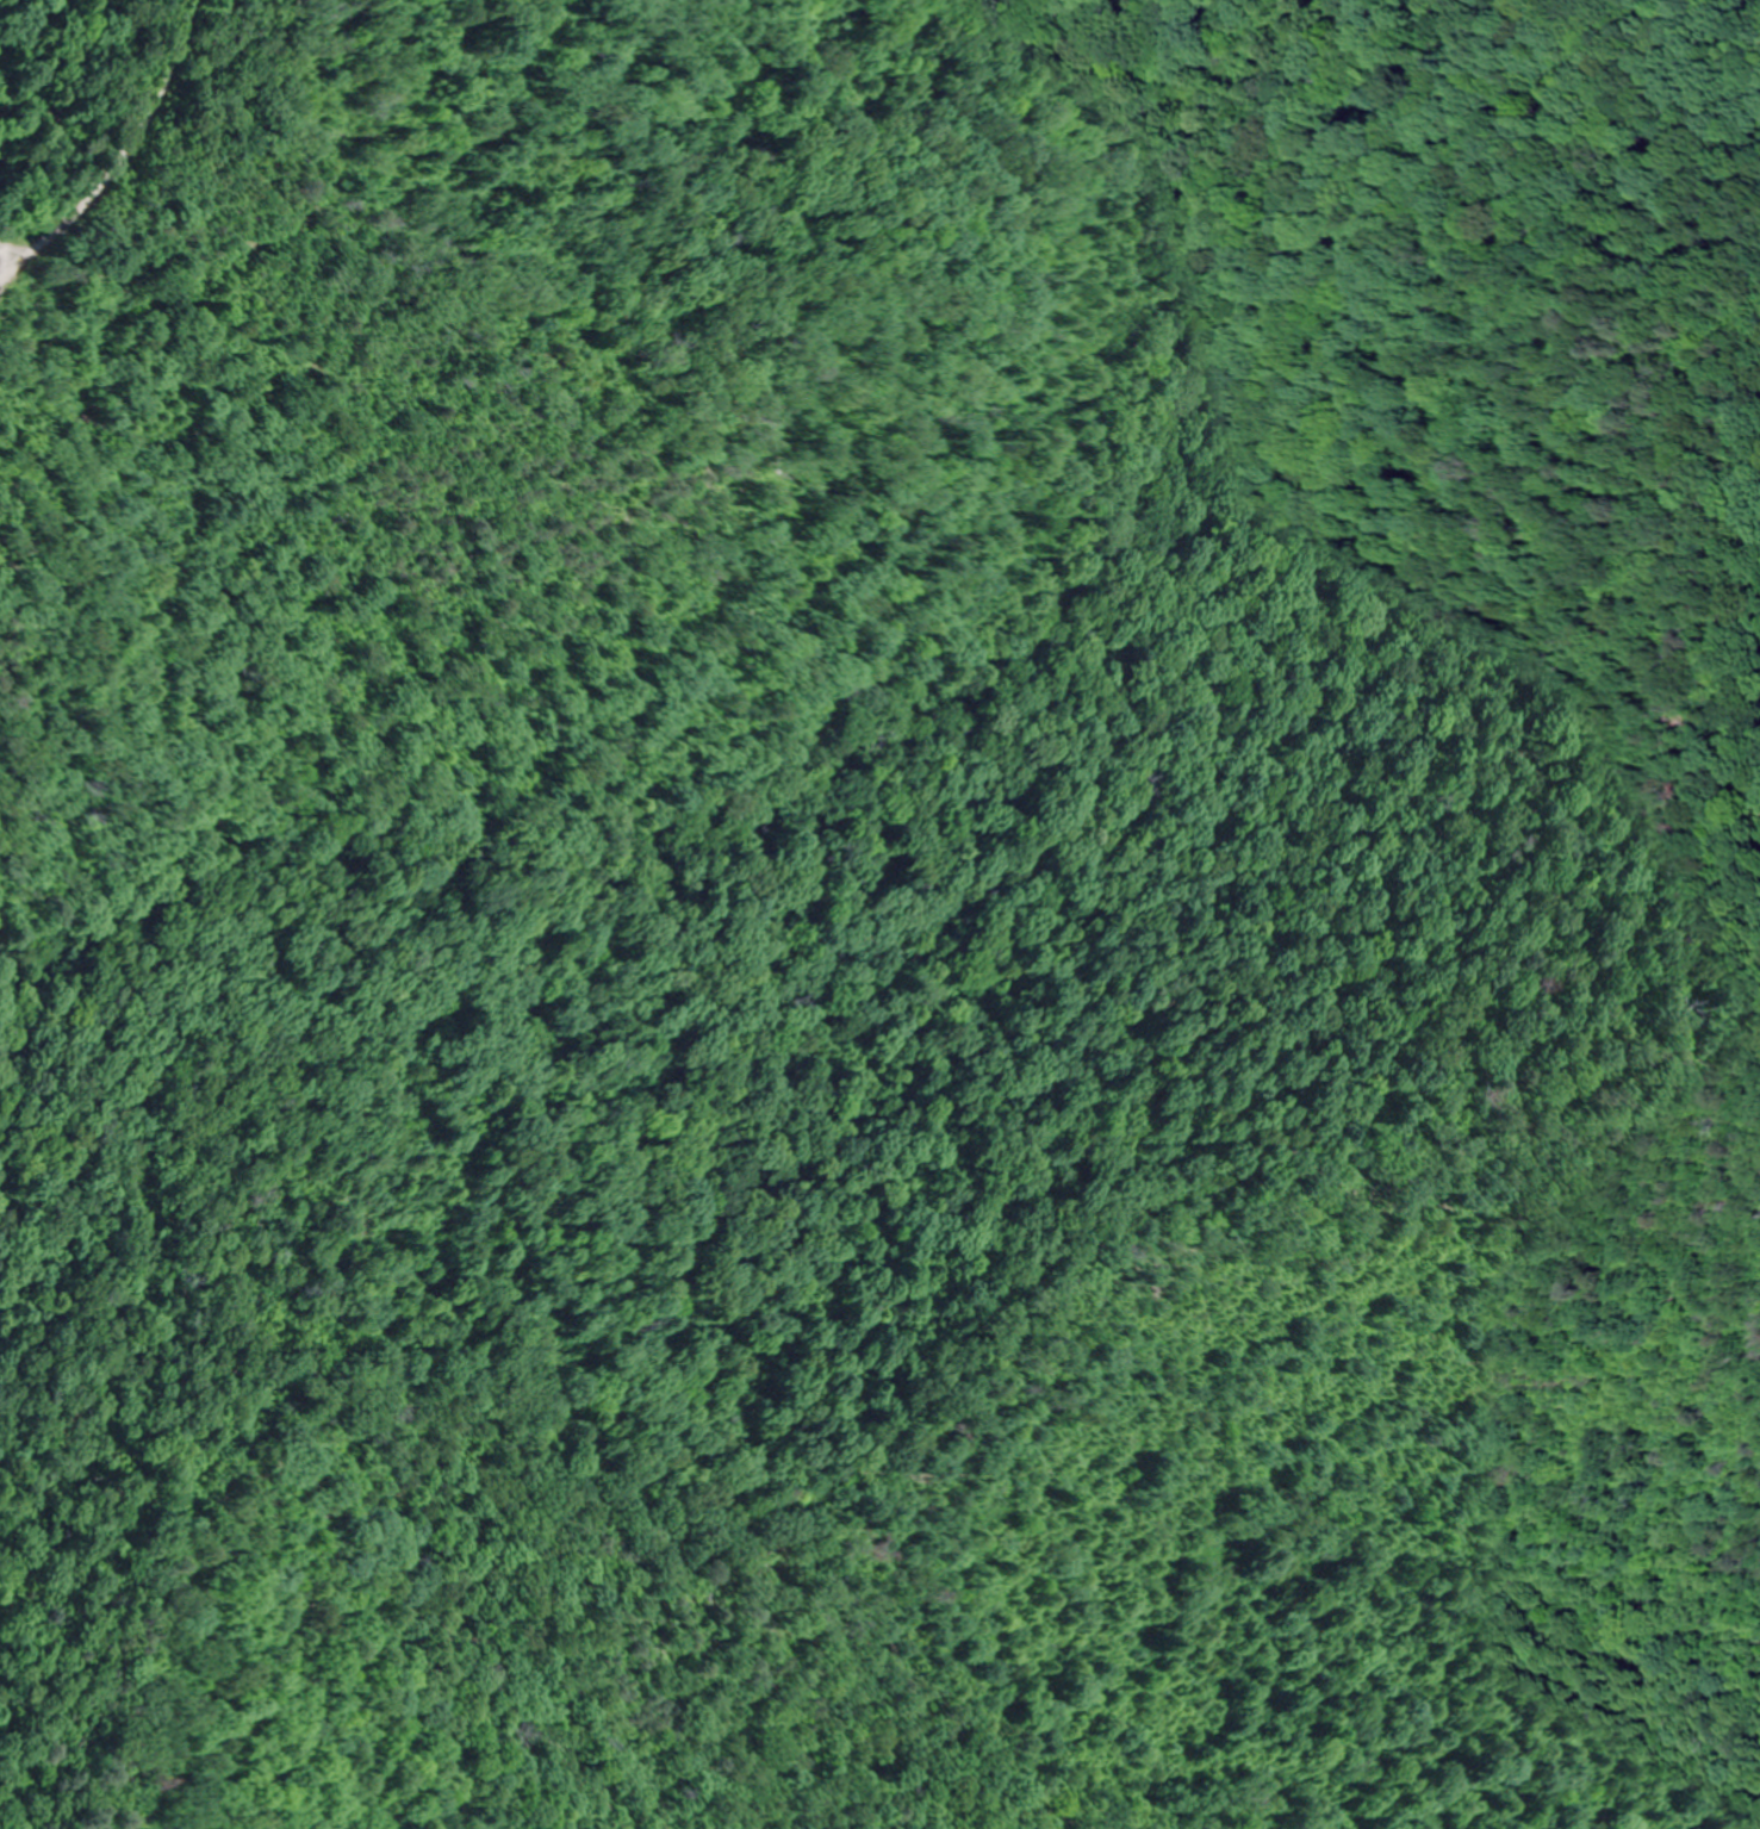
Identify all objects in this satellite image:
road: (137, 180)

